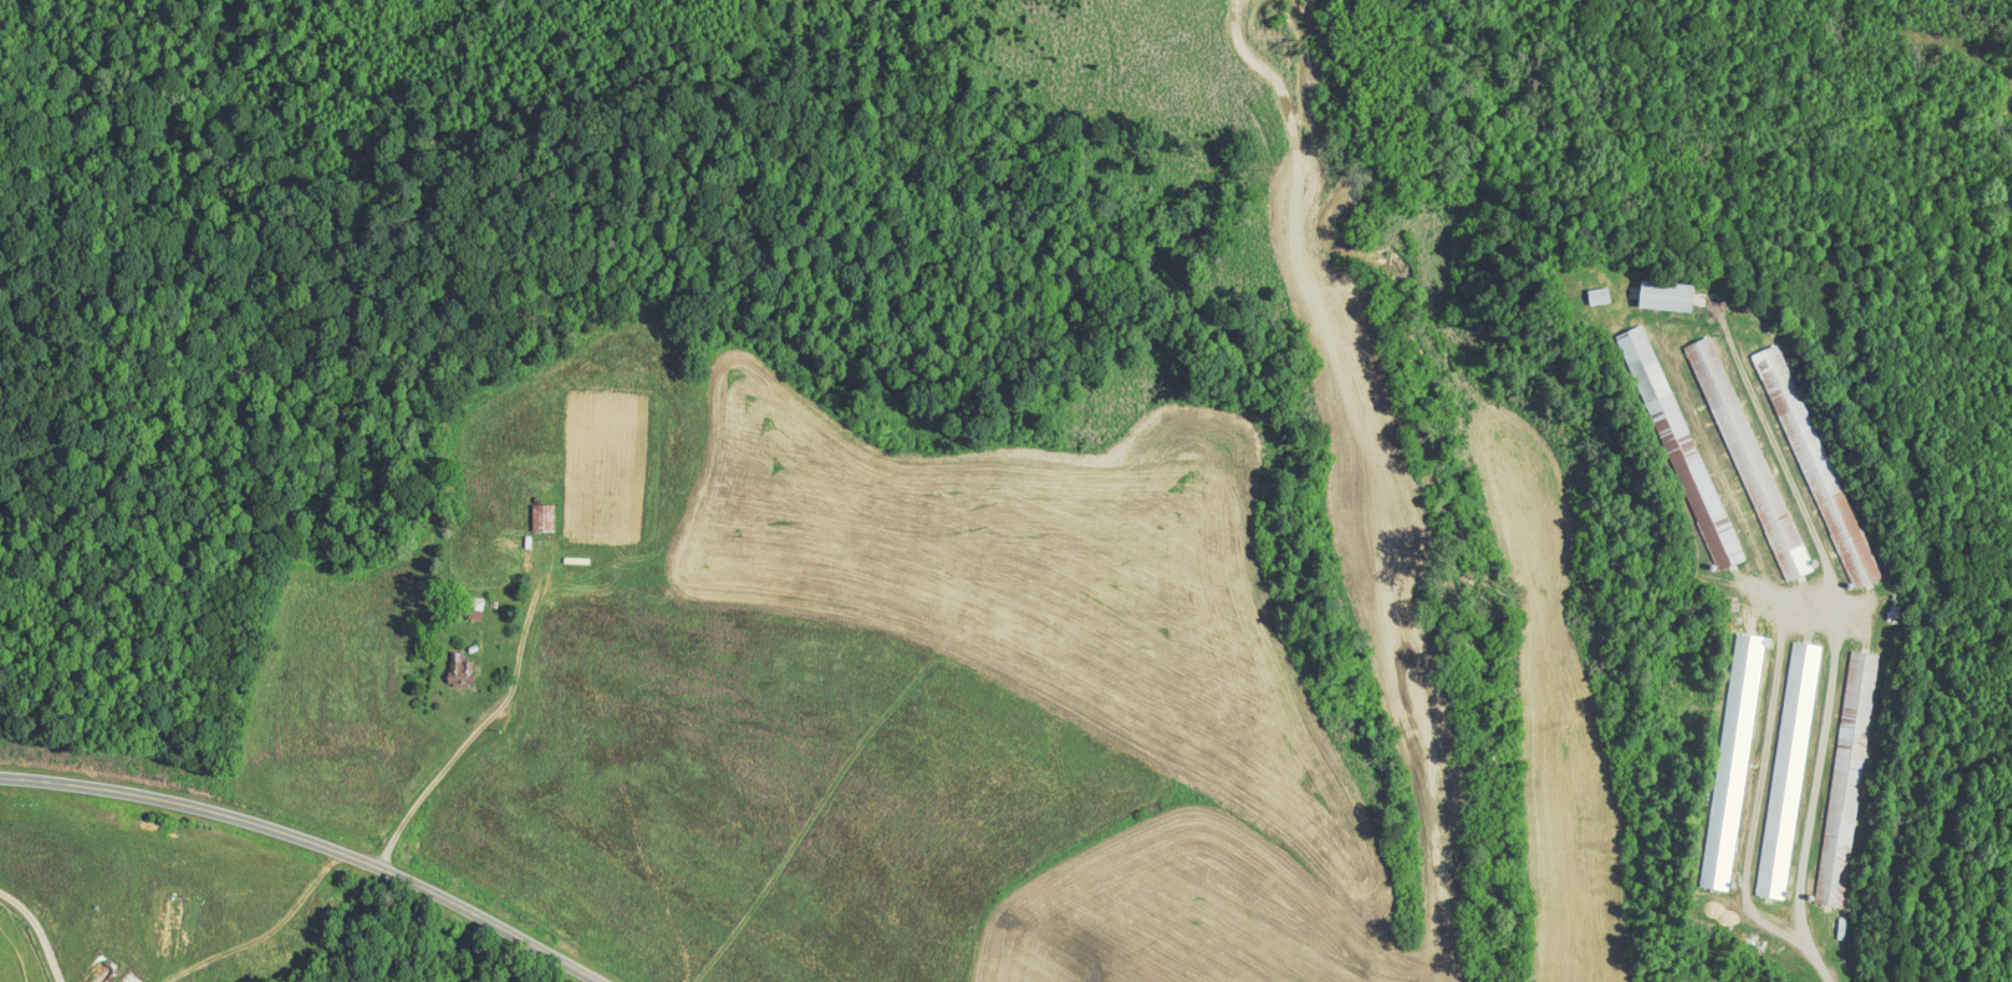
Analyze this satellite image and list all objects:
road: (1796, 128)
building: (1586, 288)
building: (1653, 290)
building: (1668, 440)
building: (1736, 451)
building: (1804, 459)
building: (530, 510)
building: (463, 601)
road: (1793, 602)
building: (447, 664)
building: (1720, 753)
road: (434, 763)
building: (1776, 763)
building: (1836, 772)
road: (318, 840)
road: (261, 924)
road: (36, 931)
road: (1821, 962)

